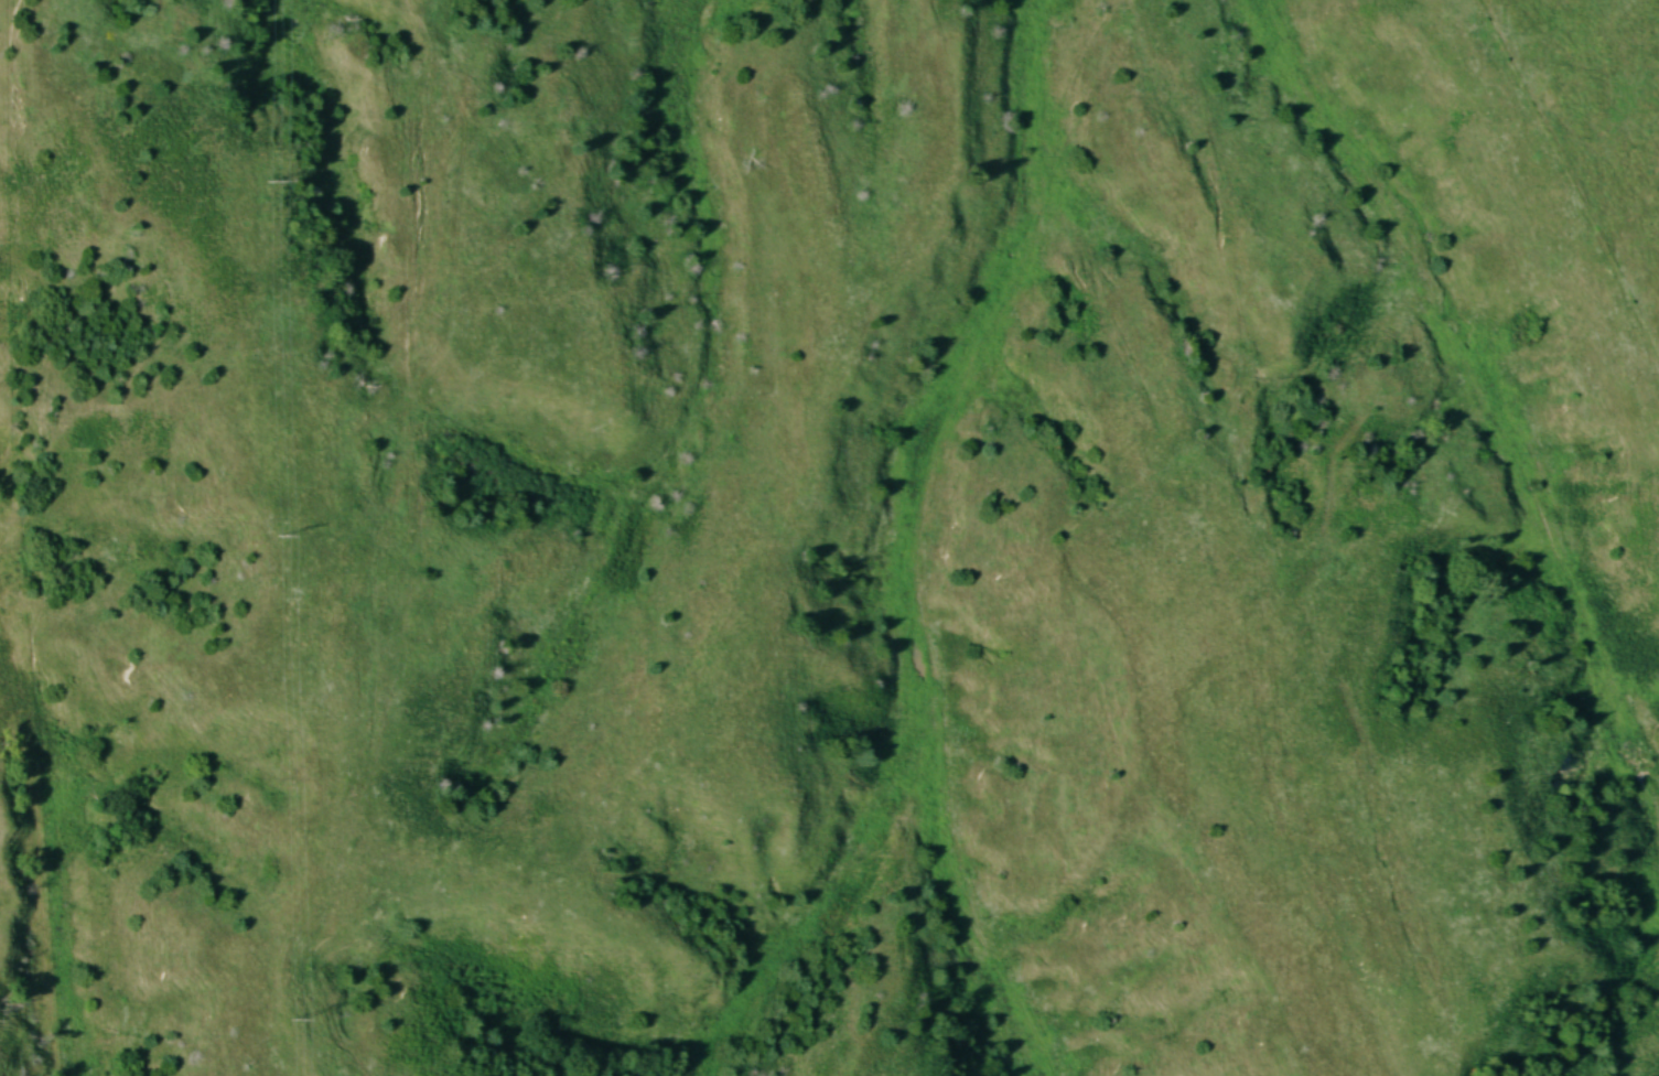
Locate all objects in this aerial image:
power tower: (267, 183)
power tower: (282, 537)
power tower: (294, 1023)

